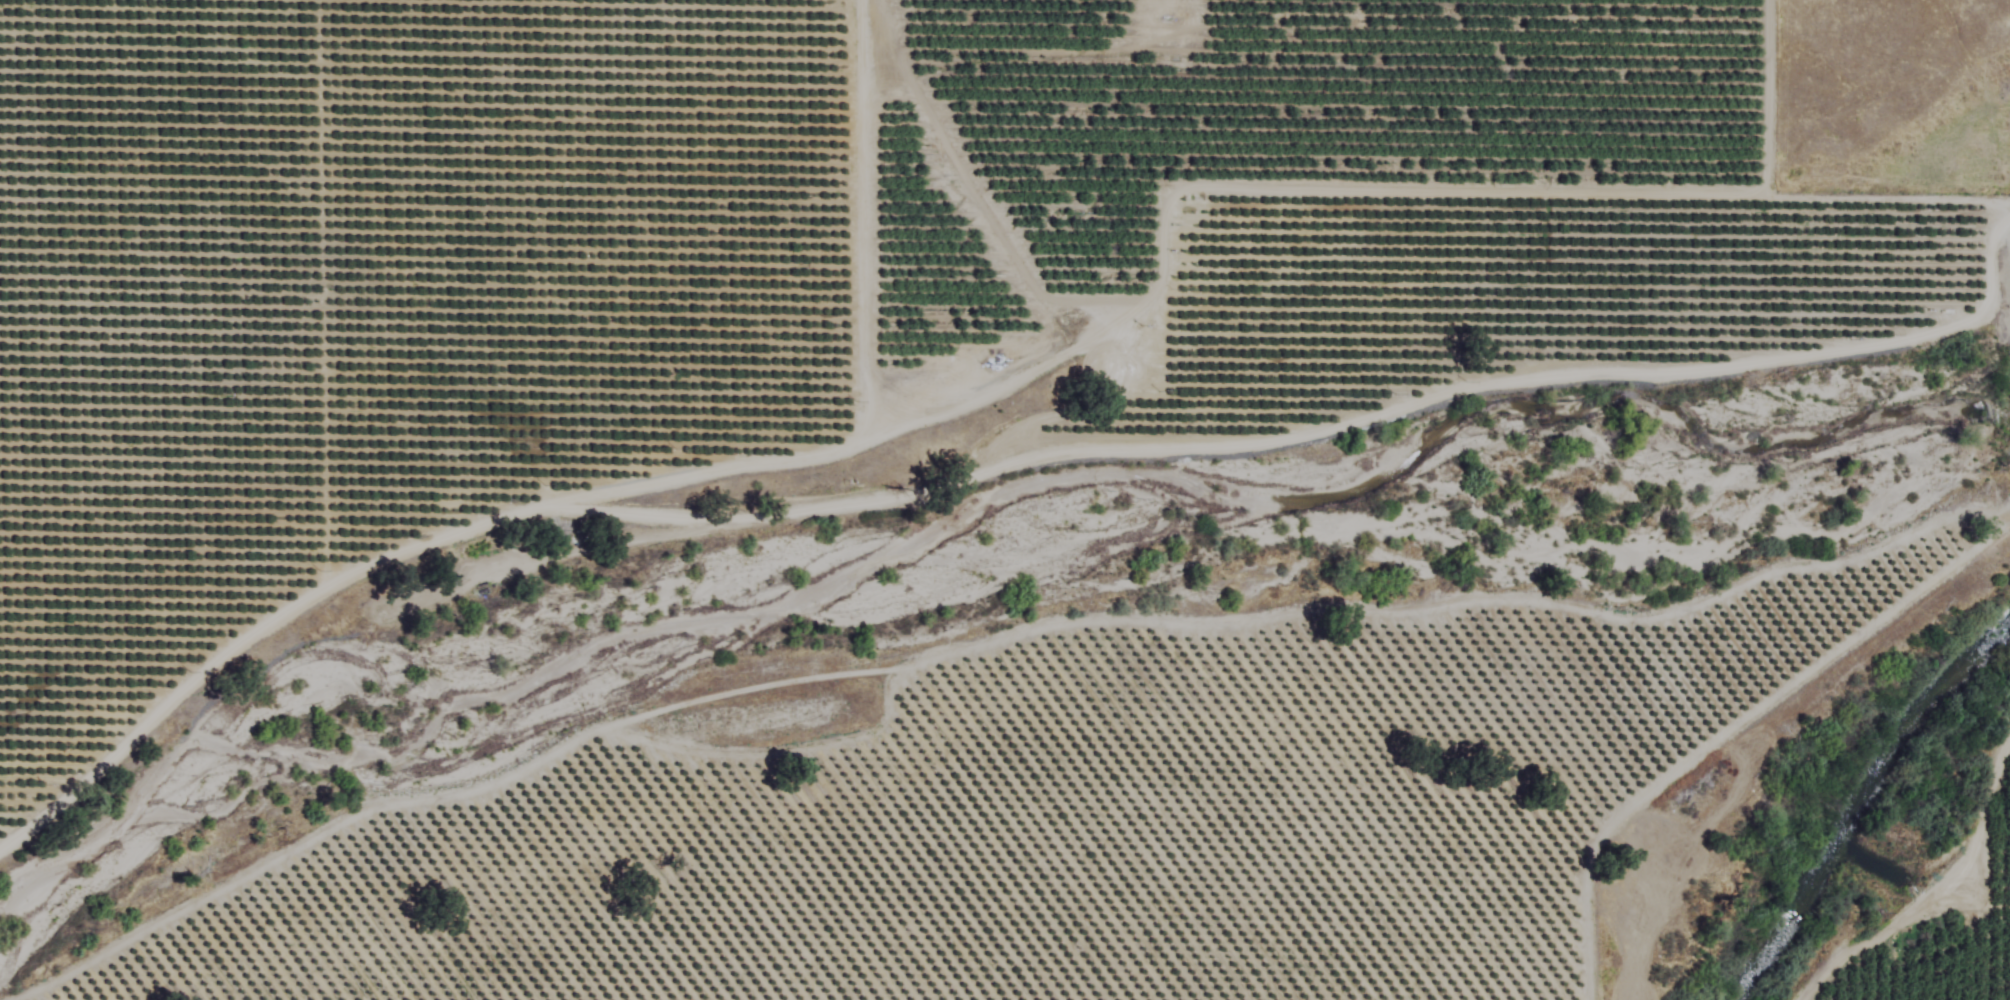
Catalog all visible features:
crop: (650, 244)
road: (976, 313)
crop: (1100, 838)
crop: (1941, 930)

